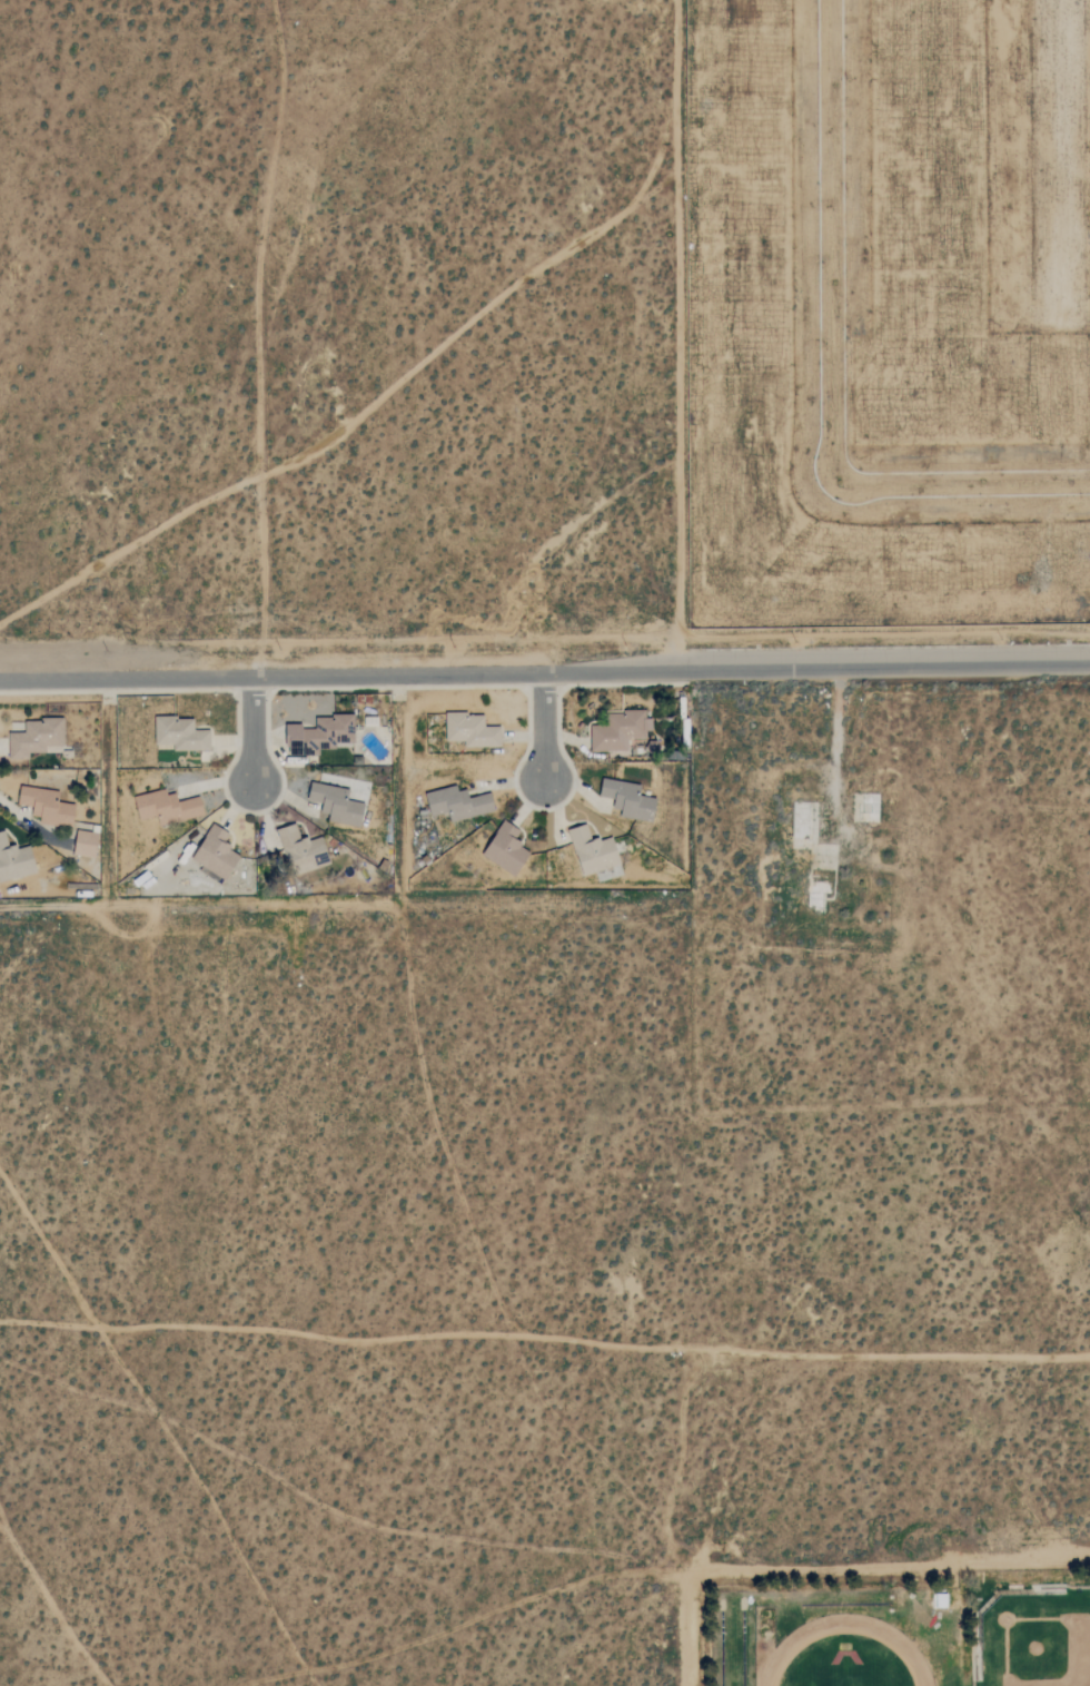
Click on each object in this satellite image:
road: (255, 336)
road: (833, 369)
road: (346, 415)
road: (545, 669)
road: (541, 726)
road: (251, 728)
building: (472, 731)
building: (620, 731)
building: (180, 734)
building: (319, 736)
building: (36, 738)
building: (628, 800)
building: (458, 803)
building: (336, 805)
building: (47, 807)
building: (167, 807)
building: (86, 844)
building: (506, 849)
building: (303, 851)
building: (593, 852)
building: (216, 854)
building: (14, 861)
road: (891, 1561)
park: (892, 1626)

